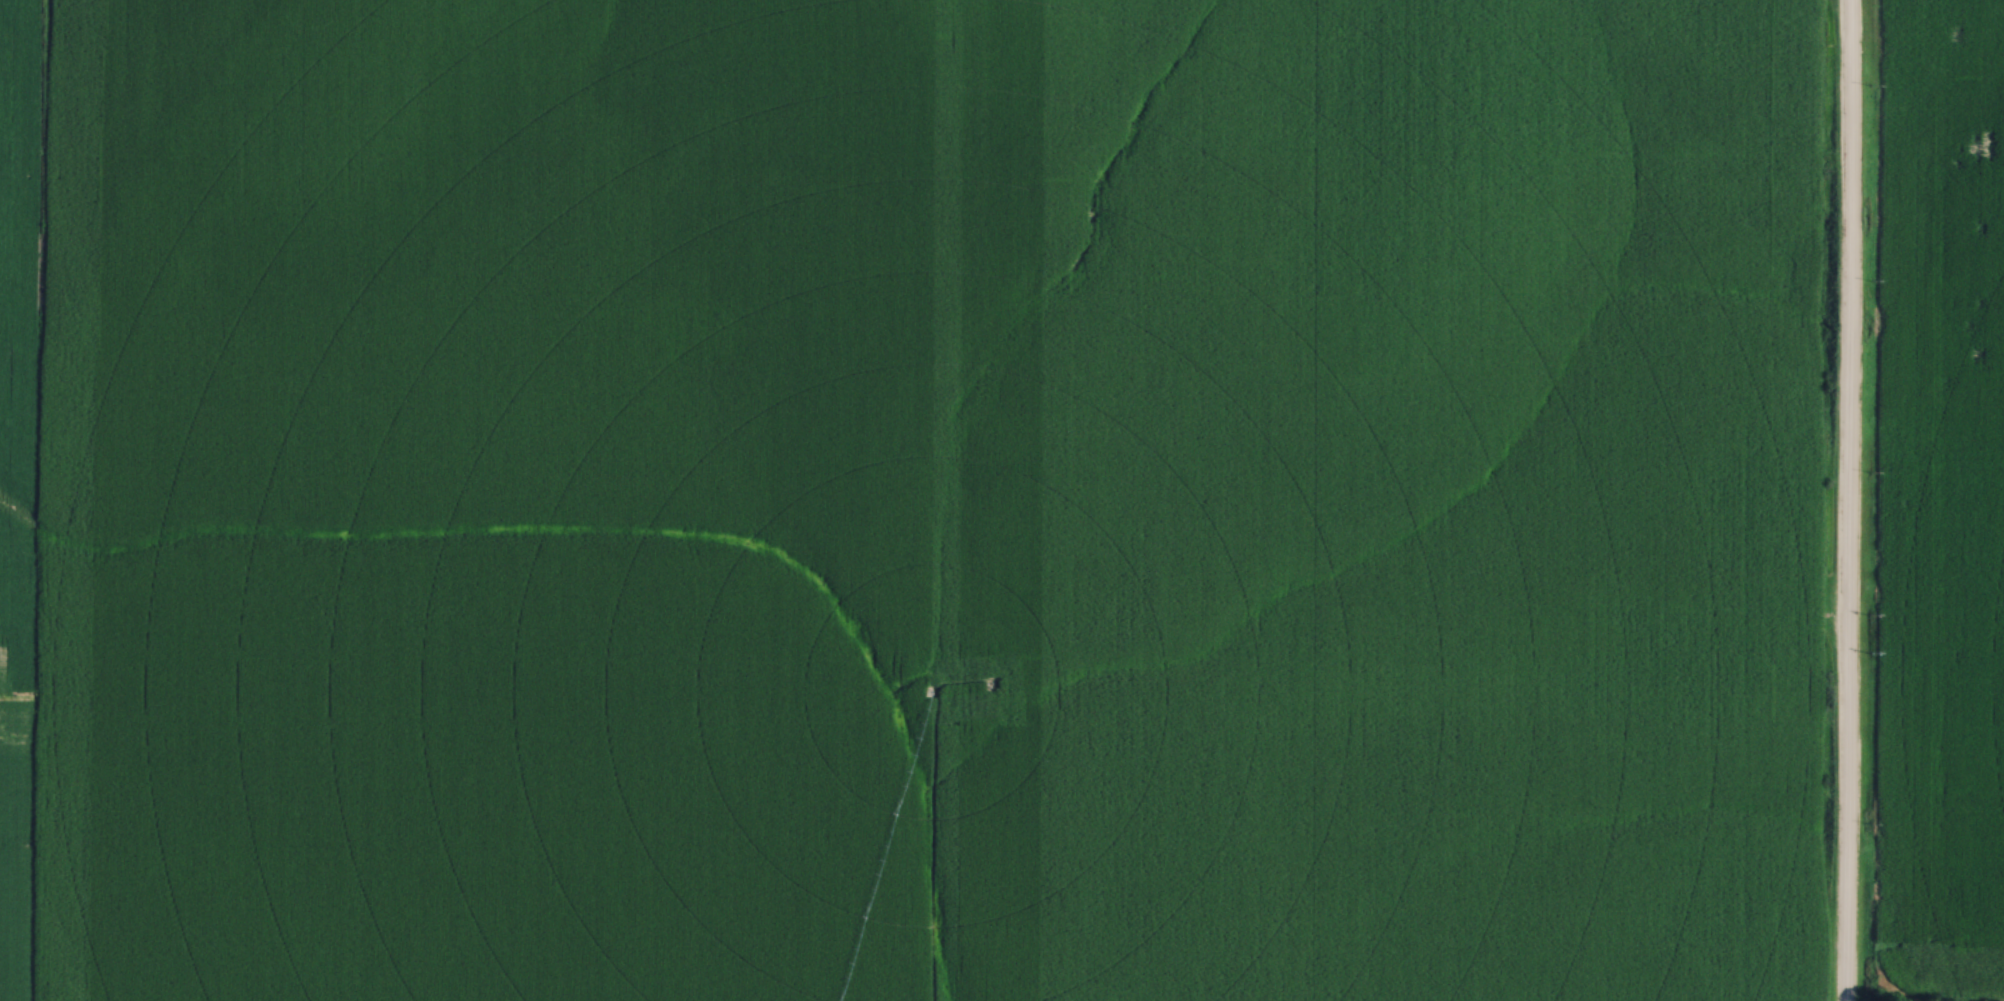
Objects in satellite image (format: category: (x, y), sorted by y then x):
road: (1849, 500)

